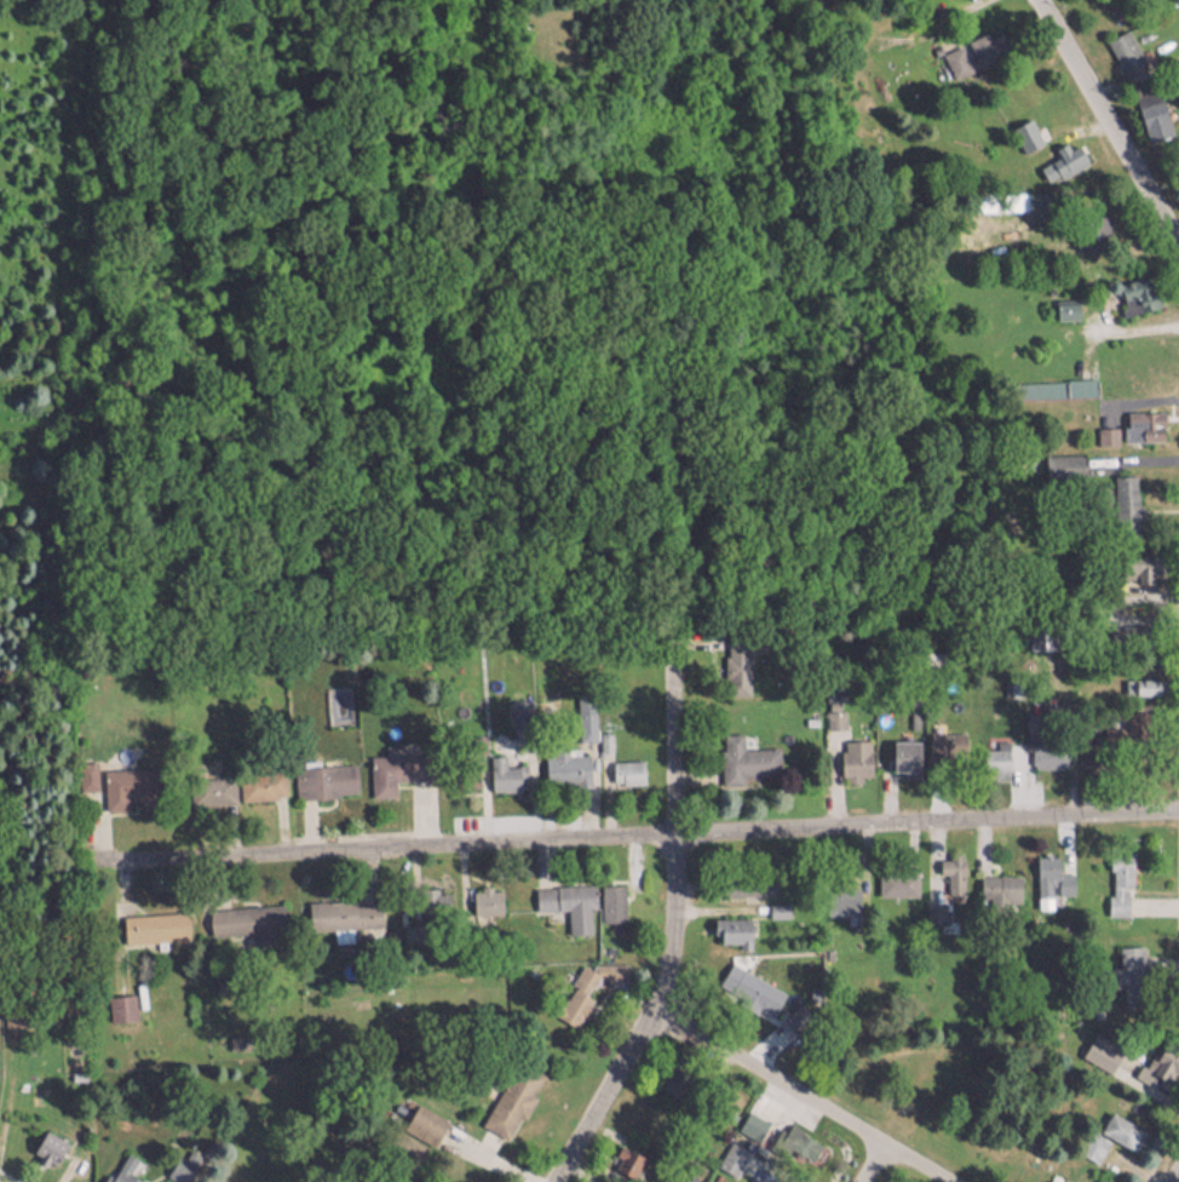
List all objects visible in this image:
building: (1121, 45)
building: (1022, 125)
road: (1105, 126)
building: (1059, 155)
building: (1139, 419)
building: (1060, 461)
building: (1122, 500)
building: (1137, 563)
building: (1139, 681)
building: (852, 748)
building: (901, 750)
building: (743, 753)
building: (990, 753)
building: (565, 758)
building: (623, 765)
building: (324, 774)
road: (628, 837)
building: (1049, 870)
building: (995, 882)
building: (484, 894)
building: (609, 896)
building: (564, 899)
building: (341, 908)
building: (243, 913)
road: (668, 919)
building: (151, 920)
building: (727, 924)
building: (747, 982)
building: (510, 1097)
road: (794, 1098)
building: (421, 1117)
building: (749, 1118)
building: (1118, 1124)
building: (45, 1141)
building: (726, 1153)
building: (622, 1154)
road: (865, 1165)
building: (120, 1169)
road: (1175, 1176)
building: (1052, 1178)

